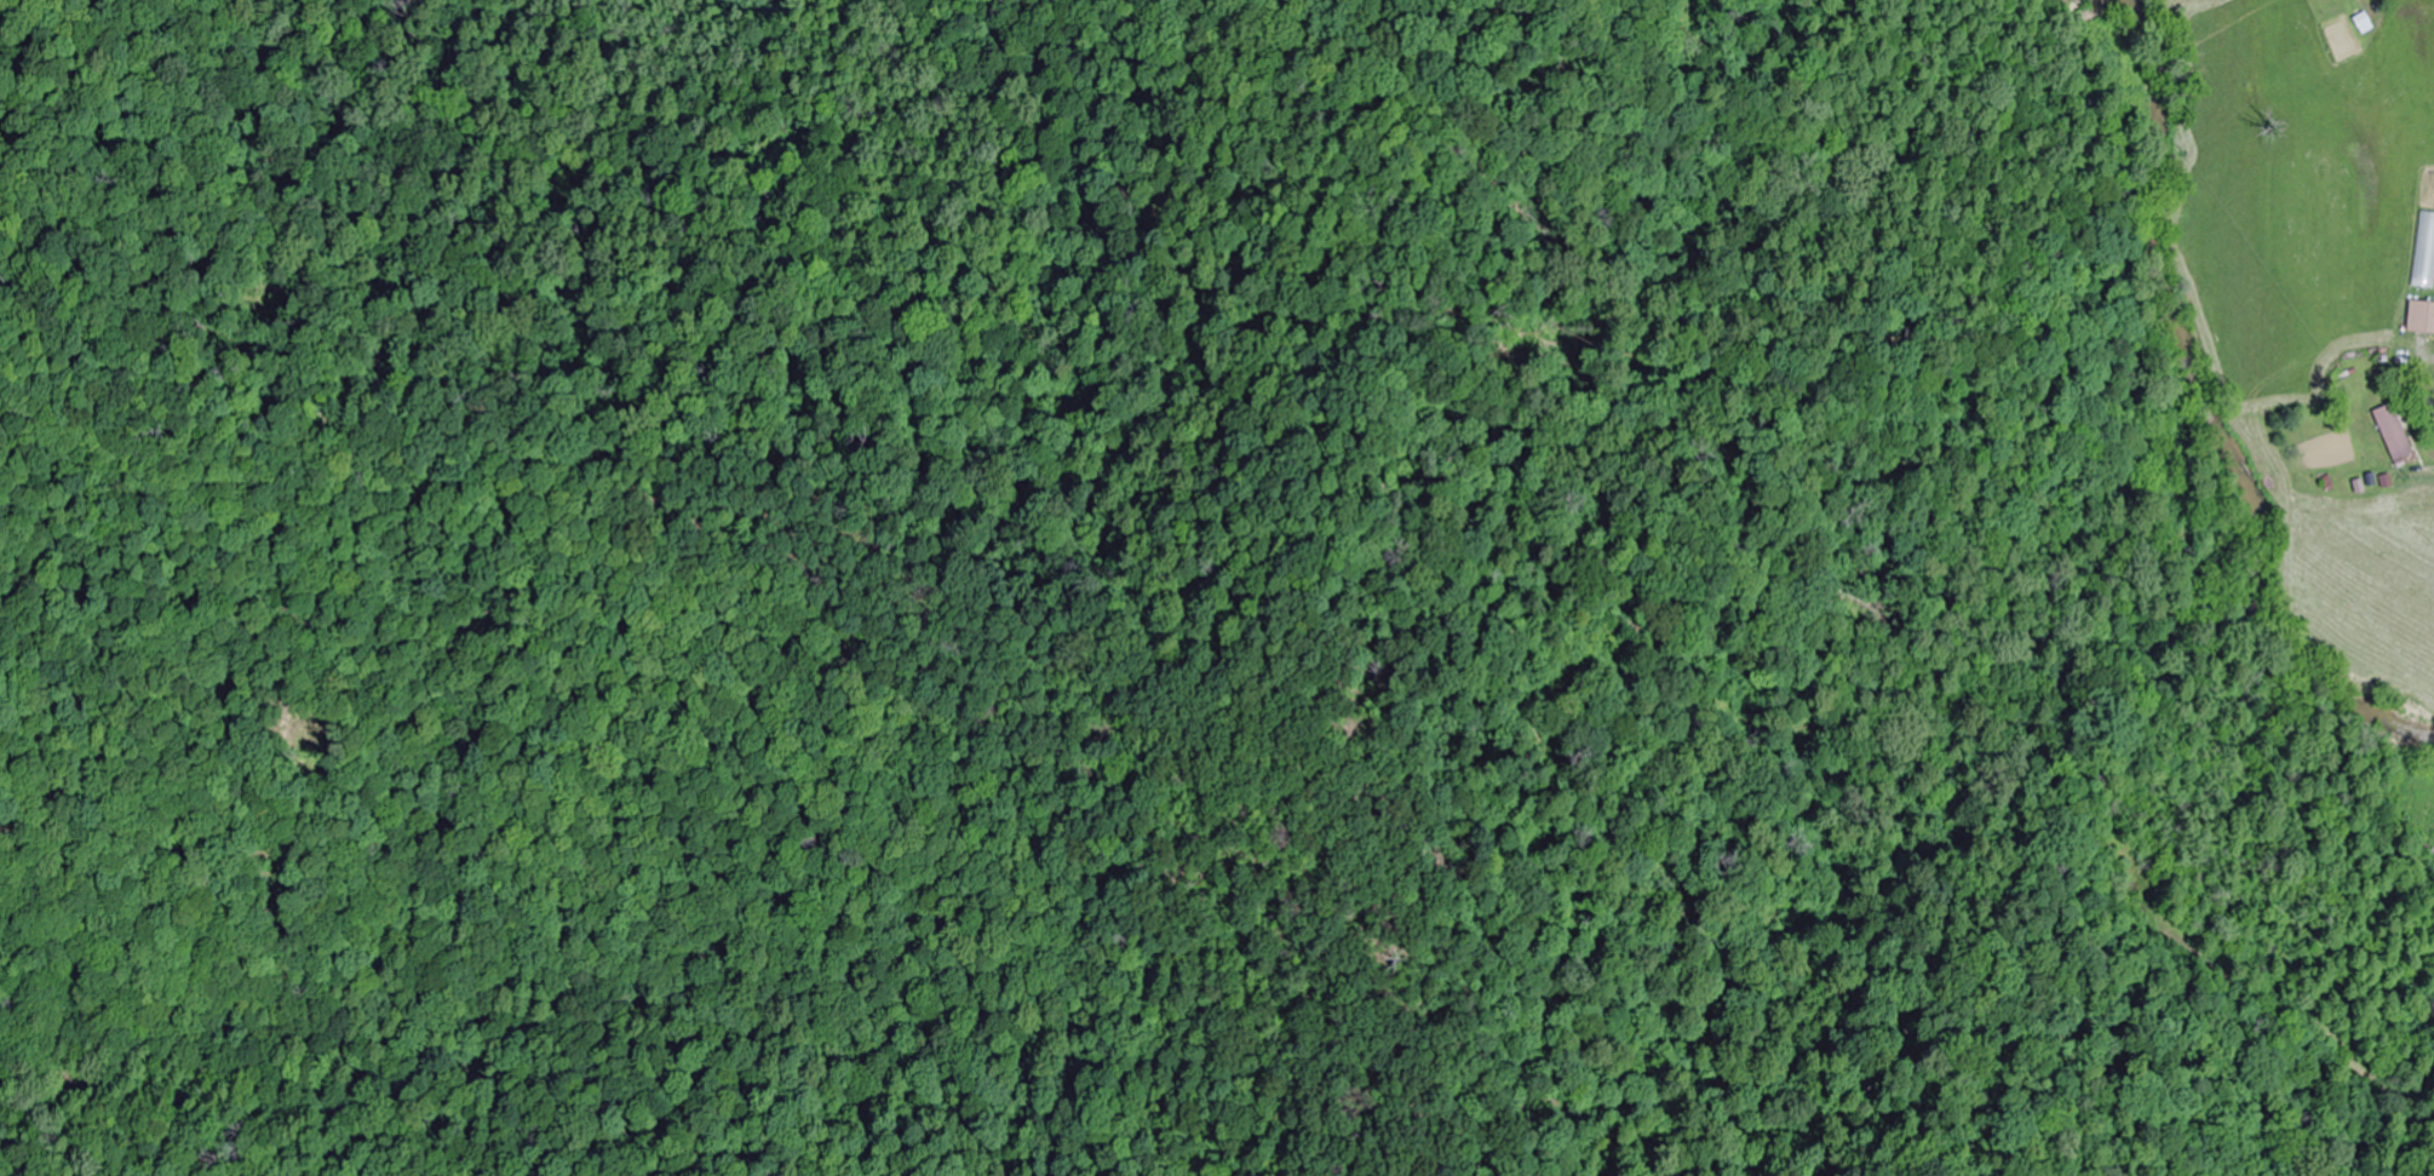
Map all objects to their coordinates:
building: (2419, 317)
building: (2390, 432)

